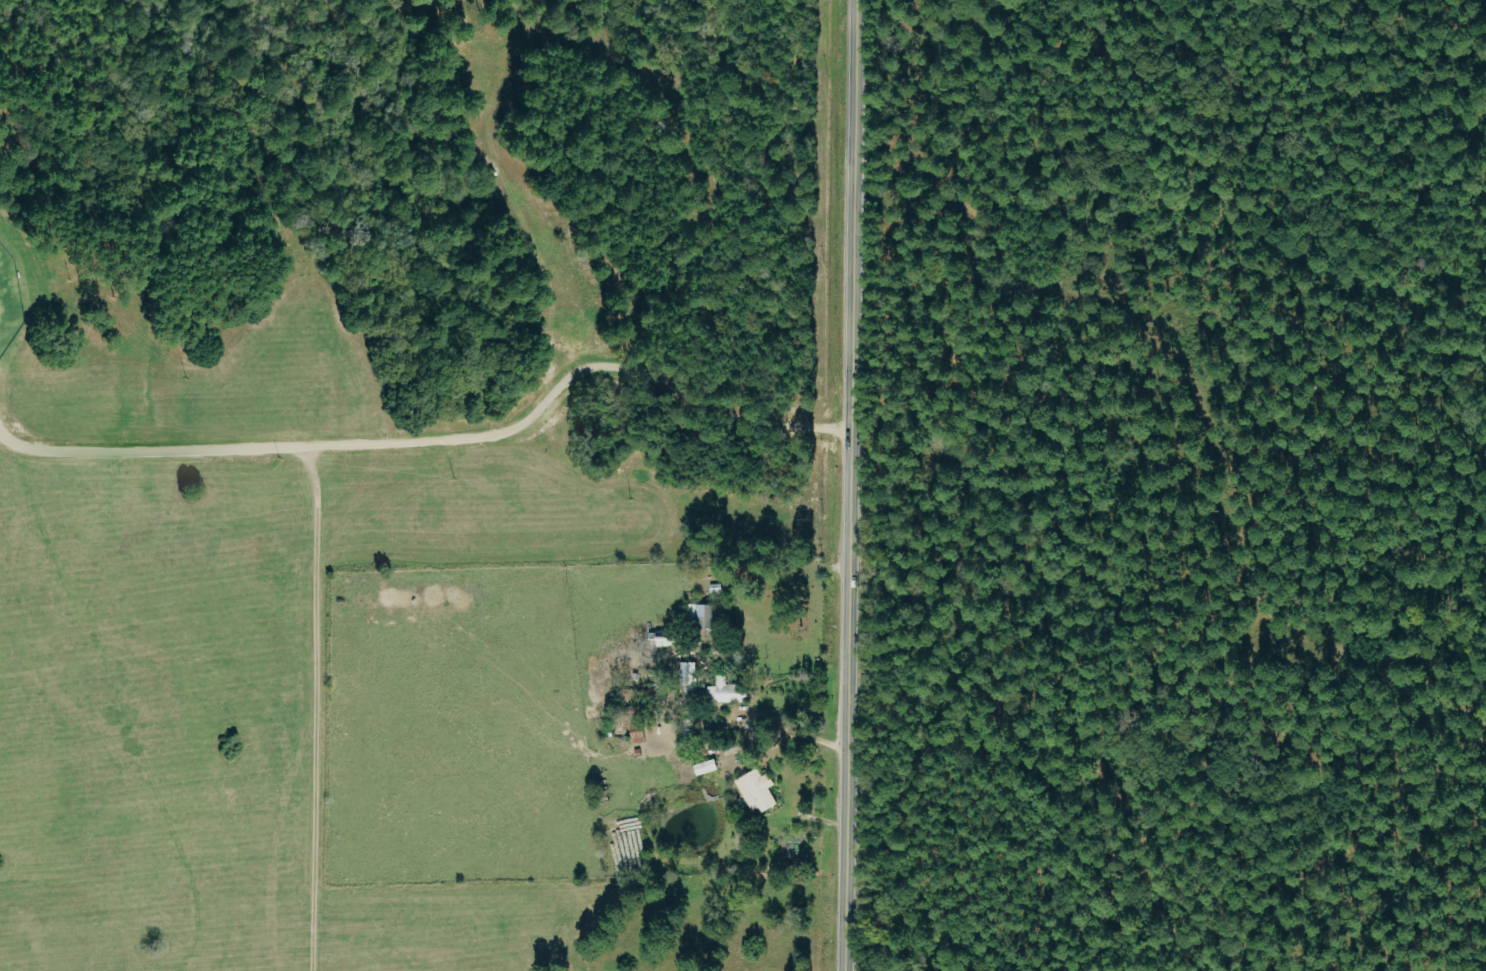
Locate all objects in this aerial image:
road: (426, 438)
road: (846, 485)
building: (704, 614)
building: (664, 639)
building: (728, 690)
building: (709, 766)
building: (759, 790)

